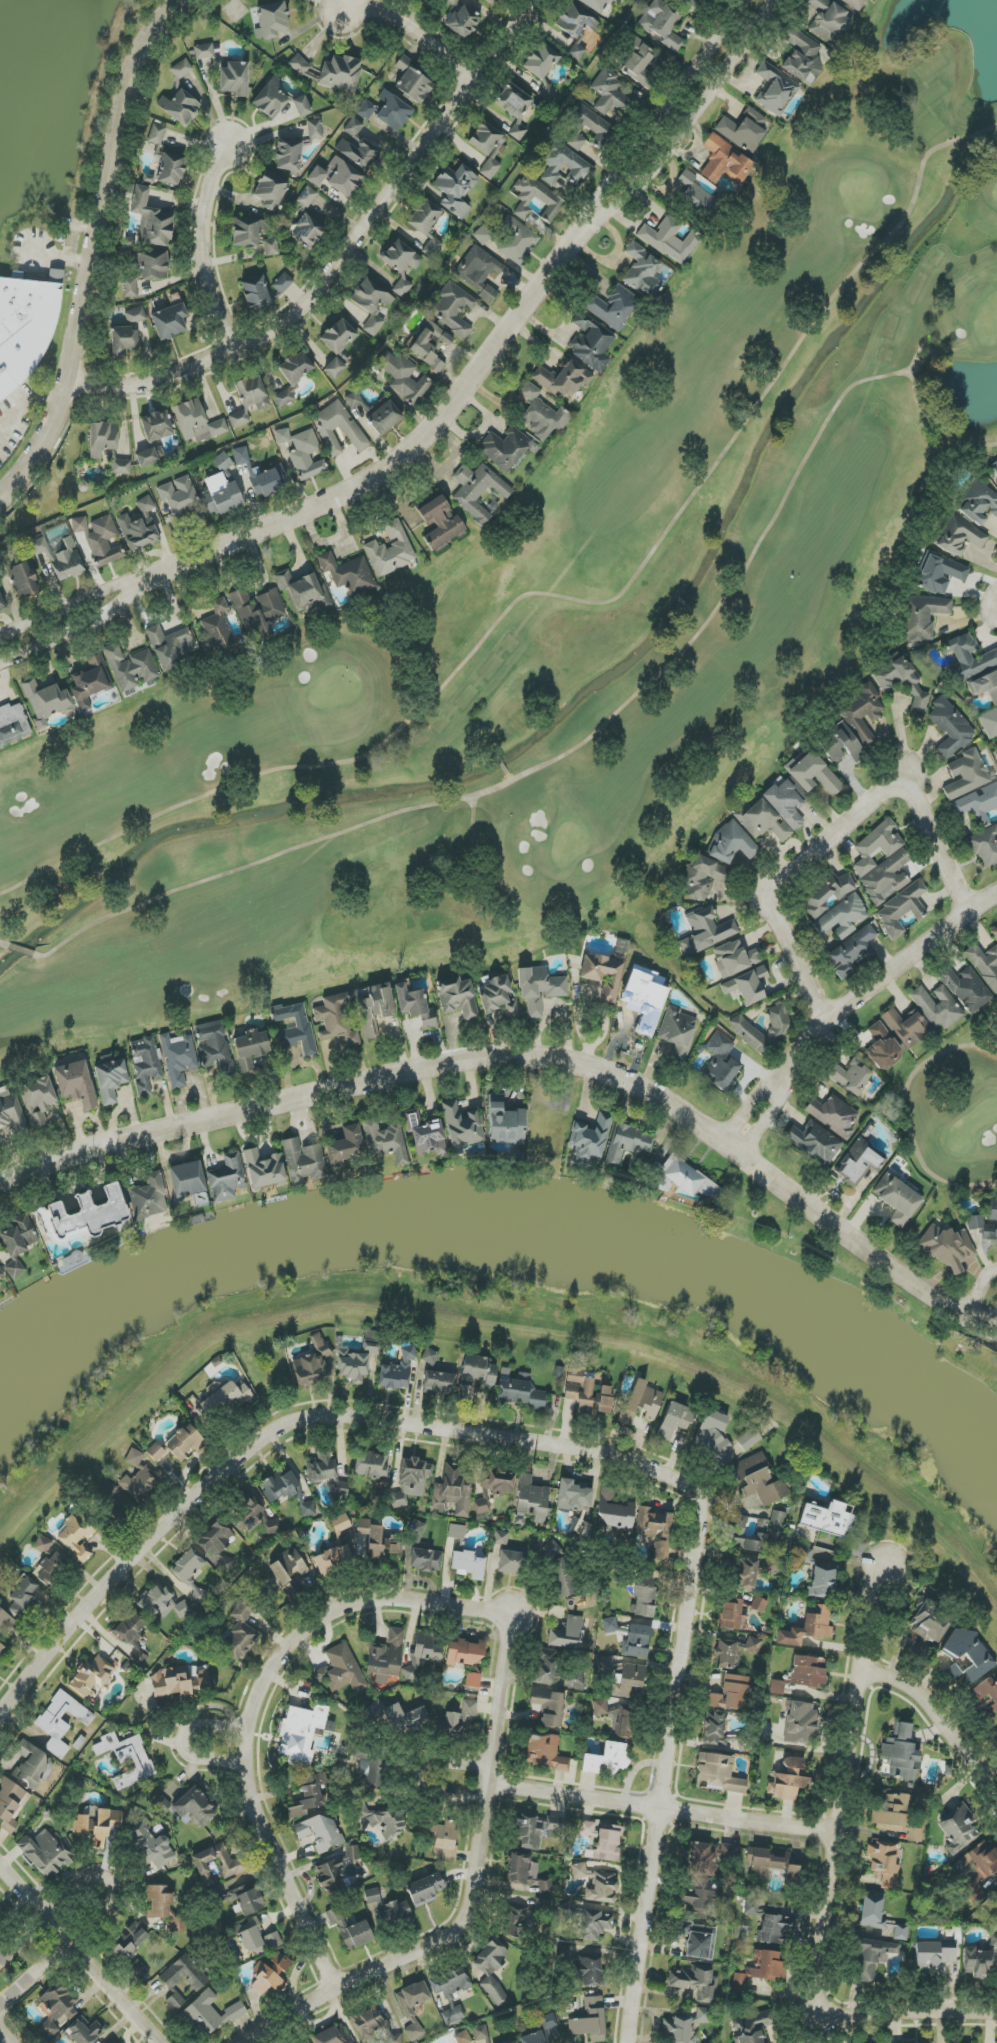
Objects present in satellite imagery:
building: (491, 1)
building: (452, 3)
building: (596, 4)
building: (690, 4)
building: (855, 4)
building: (271, 20)
building: (463, 22)
building: (828, 22)
building: (662, 23)
building: (575, 27)
road: (413, 31)
building: (204, 51)
building: (802, 56)
building: (638, 63)
building: (299, 65)
building: (542, 67)
building: (180, 70)
building: (340, 73)
building: (234, 79)
building: (412, 82)
building: (775, 89)
building: (610, 93)
building: (271, 99)
building: (302, 106)
building: (180, 107)
building: (514, 107)
building: (366, 110)
building: (393, 111)
road: (651, 127)
building: (315, 129)
building: (744, 130)
building: (603, 131)
road: (680, 136)
building: (357, 146)
building: (488, 147)
building: (288, 155)
building: (166, 159)
building: (725, 162)
building: (562, 164)
building: (337, 177)
building: (148, 178)
building: (455, 189)
building: (270, 190)
building: (695, 193)
building: (307, 197)
building: (553, 202)
building: (150, 220)
building: (535, 220)
building: (426, 225)
road: (74, 231)
building: (307, 231)
building: (248, 232)
building: (482, 235)
building: (670, 240)
building: (517, 241)
building: (129, 244)
building: (271, 247)
road: (206, 248)
road: (95, 250)
road: (343, 256)
road: (61, 258)
building: (401, 265)
building: (146, 270)
building: (642, 271)
building: (479, 272)
building: (283, 283)
building: (255, 293)
building: (371, 303)
building: (613, 307)
building: (454, 309)
building: (135, 315)
building: (170, 322)
building: (22, 331)
building: (338, 337)
building: (124, 341)
building: (590, 342)
building: (430, 345)
building: (334, 368)
building: (293, 377)
building: (404, 378)
building: (563, 379)
building: (249, 400)
building: (353, 400)
road: (28, 403)
building: (541, 414)
building: (384, 418)
building: (197, 422)
building: (156, 426)
road: (4, 429)
building: (326, 429)
building: (102, 439)
building: (505, 448)
building: (303, 453)
building: (150, 456)
building: (241, 456)
building: (223, 464)
road: (398, 464)
building: (121, 467)
building: (994, 467)
building: (266, 483)
building: (221, 496)
building: (179, 500)
building: (978, 504)
building: (440, 524)
building: (139, 527)
building: (958, 536)
building: (99, 539)
building: (390, 550)
building: (61, 558)
building: (938, 573)
building: (348, 574)
building: (23, 580)
building: (303, 592)
road: (76, 601)
building: (1, 603)
park: (558, 610)
building: (258, 612)
building: (922, 617)
building: (217, 628)
road: (83, 629)
building: (170, 647)
building: (969, 656)
building: (131, 668)
building: (900, 680)
building: (90, 682)
building: (984, 685)
building: (47, 702)
building: (863, 713)
building: (989, 723)
building: (13, 724)
building: (950, 728)
building: (842, 745)
building: (996, 750)
building: (812, 773)
building: (966, 775)
building: (785, 804)
building: (978, 804)
building: (762, 821)
road: (835, 836)
building: (731, 844)
building: (985, 846)
building: (882, 863)
building: (702, 877)
building: (827, 894)
building: (901, 909)
building: (841, 918)
building: (995, 930)
building: (706, 932)
building: (852, 952)
building: (734, 958)
road: (912, 958)
building: (985, 965)
building: (603, 973)
building: (747, 986)
building: (539, 988)
building: (966, 988)
building: (457, 997)
building: (498, 997)
building: (645, 997)
building: (415, 1006)
building: (937, 1007)
building: (336, 1019)
building: (296, 1027)
building: (907, 1027)
building: (678, 1031)
building: (214, 1046)
building: (882, 1047)
building: (250, 1048)
road: (528, 1058)
building: (178, 1059)
building: (721, 1063)
building: (146, 1065)
building: (850, 1076)
building: (111, 1080)
road: (774, 1080)
building: (76, 1084)
road: (788, 1090)
building: (39, 1100)
building: (10, 1110)
park: (954, 1112)
building: (834, 1115)
building: (505, 1123)
building: (462, 1126)
building: (425, 1134)
building: (590, 1140)
building: (385, 1141)
building: (815, 1142)
building: (627, 1143)
building: (345, 1147)
building: (303, 1162)
building: (858, 1162)
building: (264, 1170)
building: (226, 1178)
building: (186, 1180)
building: (686, 1181)
building: (149, 1197)
building: (897, 1199)
building: (86, 1213)
building: (975, 1222)
building: (19, 1236)
building: (947, 1247)
building: (15, 1268)
road: (980, 1288)
building: (371, 1347)
building: (430, 1356)
building: (312, 1363)
building: (352, 1366)
building: (398, 1371)
building: (479, 1371)
building: (439, 1382)
building: (519, 1390)
building: (588, 1394)
building: (225, 1400)
building: (641, 1402)
building: (675, 1420)
building: (712, 1435)
building: (749, 1439)
building: (185, 1442)
road: (569, 1447)
building: (156, 1452)
building: (371, 1465)
building: (325, 1471)
building: (414, 1473)
building: (137, 1478)
building: (758, 1480)
building: (497, 1481)
building: (286, 1490)
building: (453, 1491)
building: (574, 1497)
building: (531, 1501)
building: (108, 1506)
building: (481, 1506)
building: (614, 1511)
building: (253, 1517)
building: (829, 1518)
building: (341, 1524)
building: (777, 1525)
building: (763, 1527)
building: (656, 1530)
building: (457, 1532)
building: (76, 1536)
building: (746, 1537)
building: (501, 1538)
building: (378, 1541)
building: (42, 1544)
building: (216, 1545)
building: (804, 1556)
building: (425, 1558)
building: (334, 1560)
building: (511, 1562)
building: (468, 1564)
building: (51, 1570)
building: (288, 1570)
building: (559, 1570)
building: (190, 1572)
building: (746, 1575)
building: (822, 1582)
building: (644, 1598)
building: (155, 1601)
building: (759, 1605)
building: (182, 1609)
building: (732, 1614)
building: (6, 1621)
building: (929, 1622)
building: (809, 1626)
building: (240, 1632)
building: (567, 1633)
building: (131, 1635)
building: (630, 1638)
building: (2, 1649)
building: (733, 1651)
building: (464, 1653)
building: (967, 1655)
building: (421, 1656)
building: (386, 1657)
building: (545, 1666)
building: (342, 1670)
building: (808, 1671)
building: (92, 1678)
building: (628, 1679)
building: (473, 1680)
building: (180, 1681)
building: (575, 1681)
building: (777, 1687)
building: (987, 1691)
building: (731, 1693)
road: (255, 1703)
building: (549, 1707)
building: (600, 1707)
road: (946, 1709)
building: (399, 1718)
building: (459, 1719)
building: (60, 1721)
building: (622, 1723)
building: (801, 1723)
building: (714, 1729)
building: (302, 1733)
building: (994, 1738)
road: (180, 1743)
building: (544, 1752)
building: (901, 1753)
building: (127, 1758)
building: (606, 1760)
building: (31, 1764)
building: (372, 1765)
road: (420, 1773)
building: (719, 1773)
building: (789, 1780)
building: (309, 1795)
road: (844, 1801)
building: (161, 1803)
building: (10, 1804)
building: (195, 1807)
road: (664, 1809)
building: (892, 1813)
building: (381, 1820)
building: (98, 1823)
building: (587, 1828)
building: (958, 1829)
building: (537, 1830)
building: (320, 1832)
building: (445, 1839)
building: (608, 1843)
building: (151, 1845)
building: (45, 1853)
building: (352, 1853)
building: (709, 1857)
building: (772, 1863)
building: (884, 1863)
building: (234, 1866)
building: (522, 1869)
building: (978, 1869)
building: (330, 1878)
building: (597, 1884)
building: (545, 1886)
building: (425, 1890)
road: (22, 1891)
road: (473, 1895)
building: (247, 1898)
road: (114, 1899)
building: (695, 1905)
building: (164, 1907)
building: (388, 1908)
building: (872, 1911)
building: (1, 1919)
building: (515, 1922)
building: (769, 1922)
building: (594, 1924)
building: (350, 1930)
building: (250, 1936)
building: (273, 1940)
building: (699, 1940)
building: (993, 1940)
building: (130, 1941)
building: (933, 1955)
building: (871, 1958)
building: (977, 1962)
building: (763, 1968)
building: (139, 1970)
building: (589, 1971)
building: (184, 1974)
building: (270, 1974)
building: (487, 1974)
road: (102, 1980)
building: (695, 1982)
building: (450, 1992)
building: (175, 2001)
building: (56, 2008)
road: (923, 2008)
building: (209, 2014)
building: (410, 2016)
building: (369, 2022)
building: (684, 2027)
building: (753, 2027)
building: (84, 2031)
building: (541, 2031)
building: (480, 2032)
building: (333, 2035)
road: (3, 2039)
building: (487, 2041)
building: (303, 2042)
building: (515, 2042)

